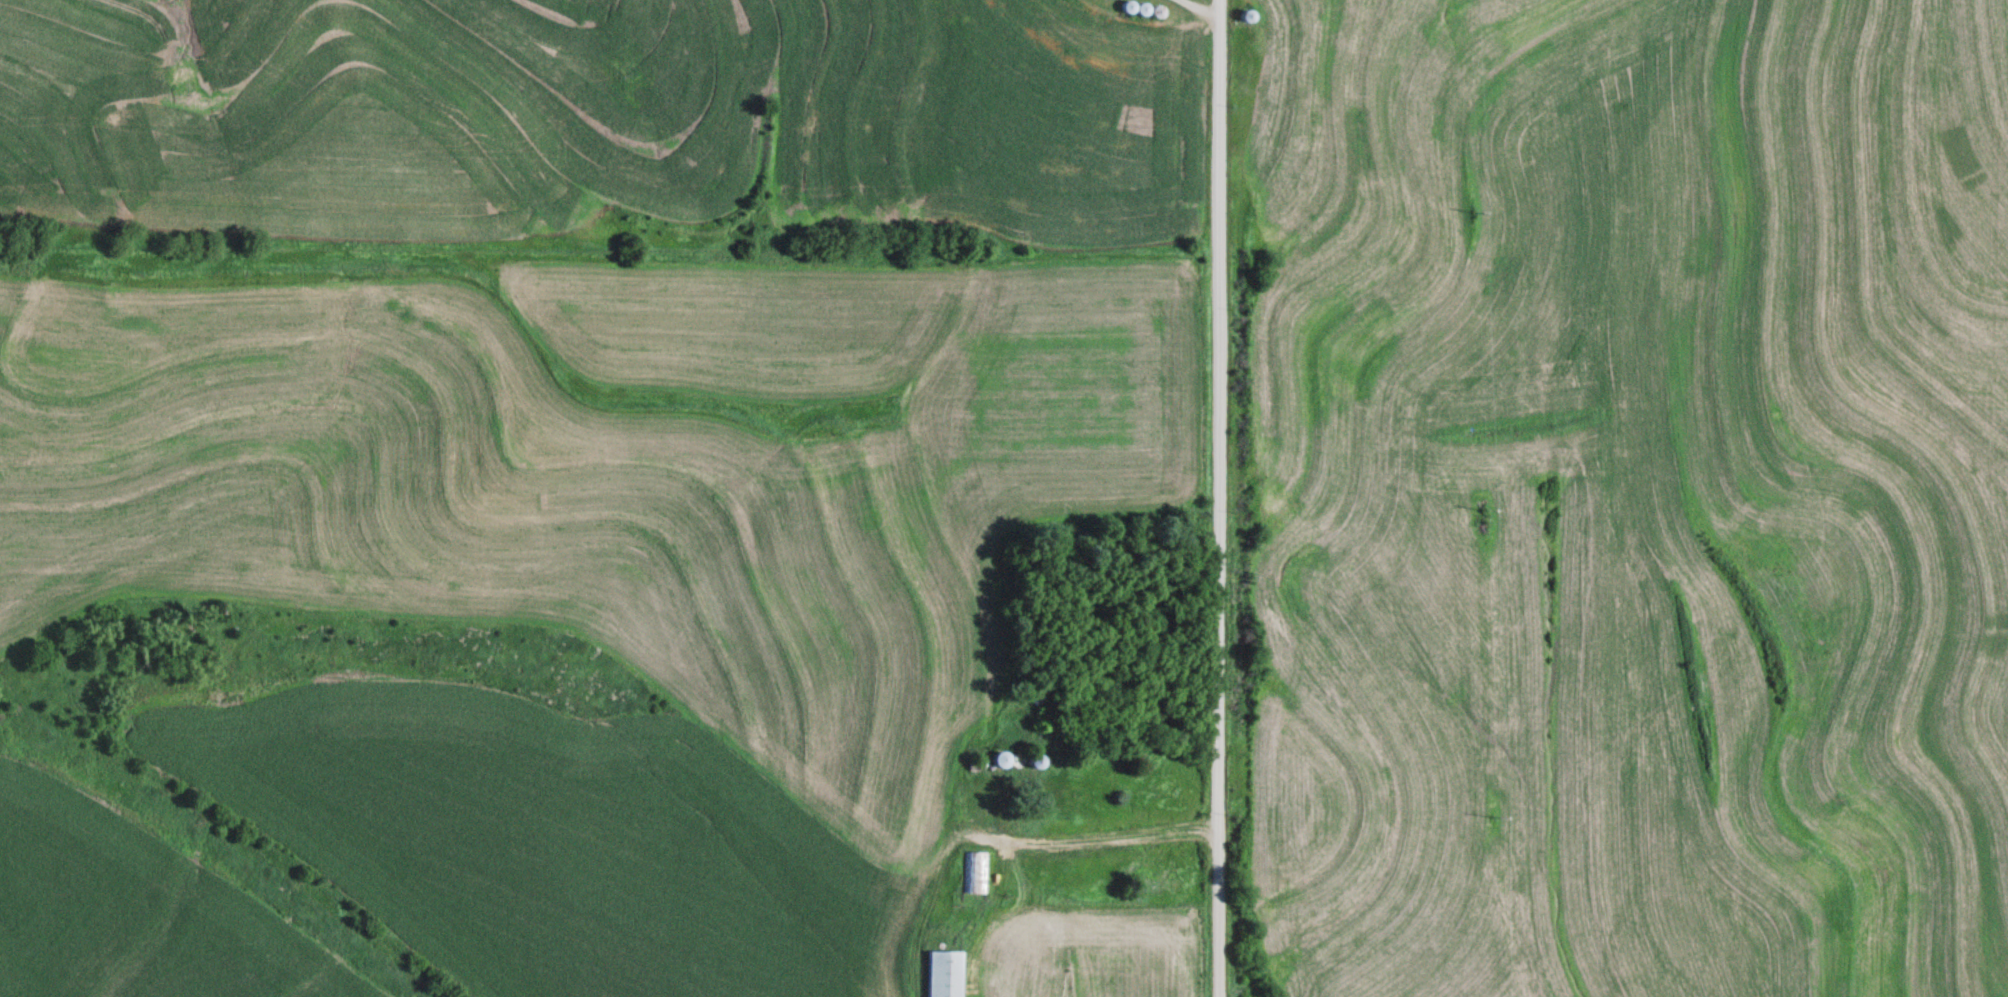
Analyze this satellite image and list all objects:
road: (1229, 498)
building: (975, 870)
building: (947, 973)

